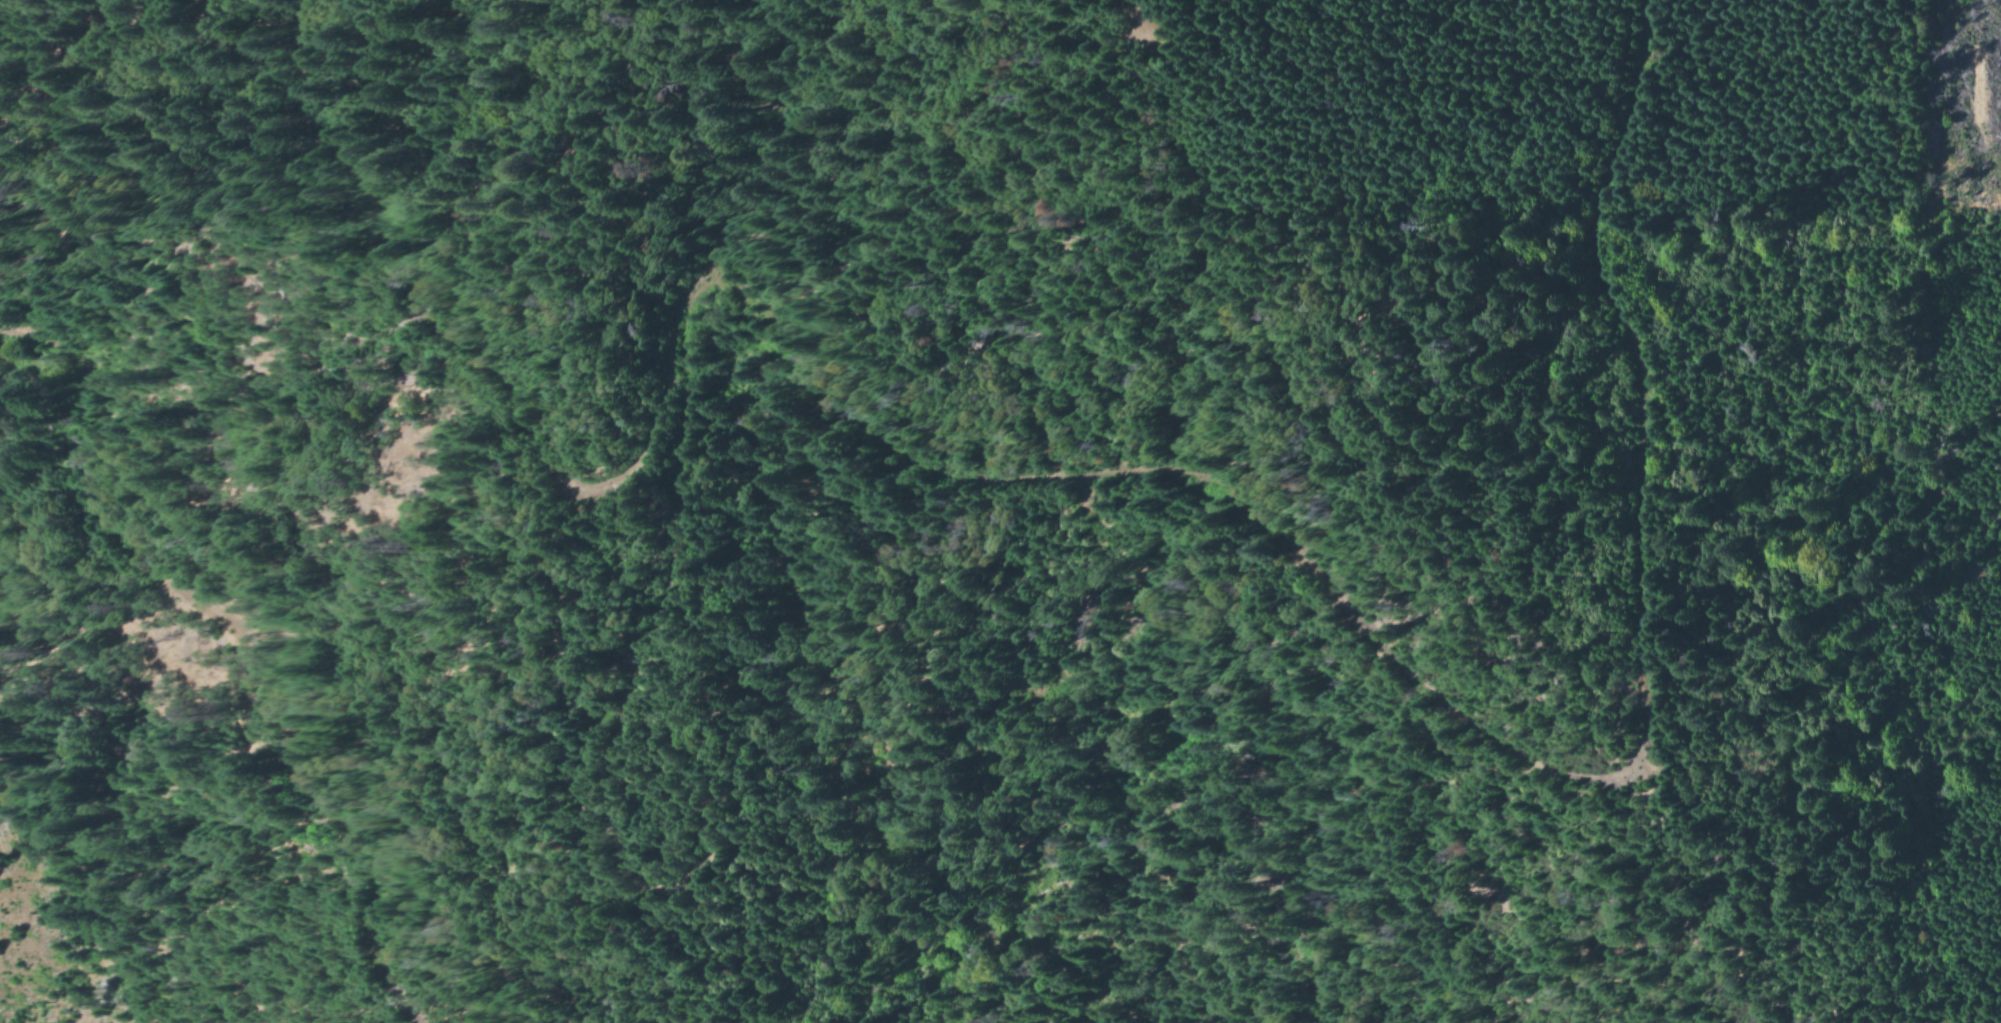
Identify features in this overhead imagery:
road: (1127, 20)

